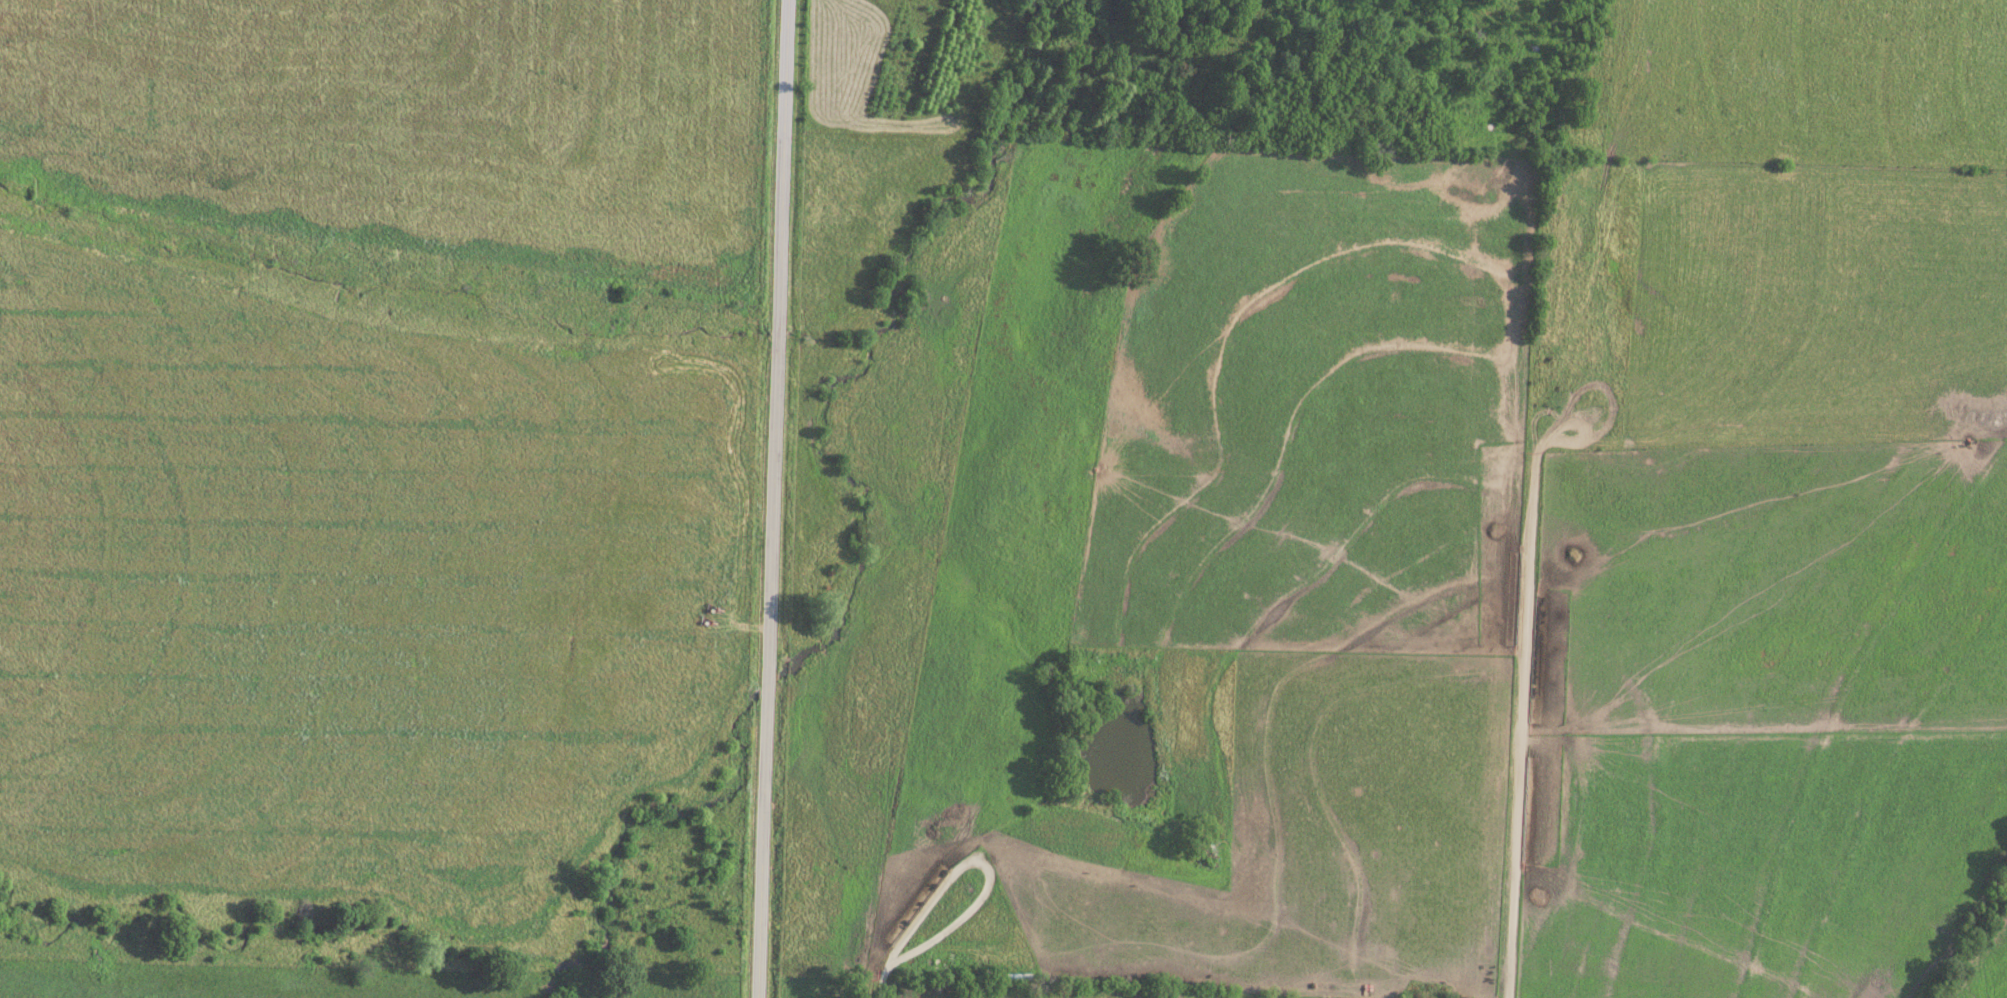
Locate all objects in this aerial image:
road: (771, 498)

